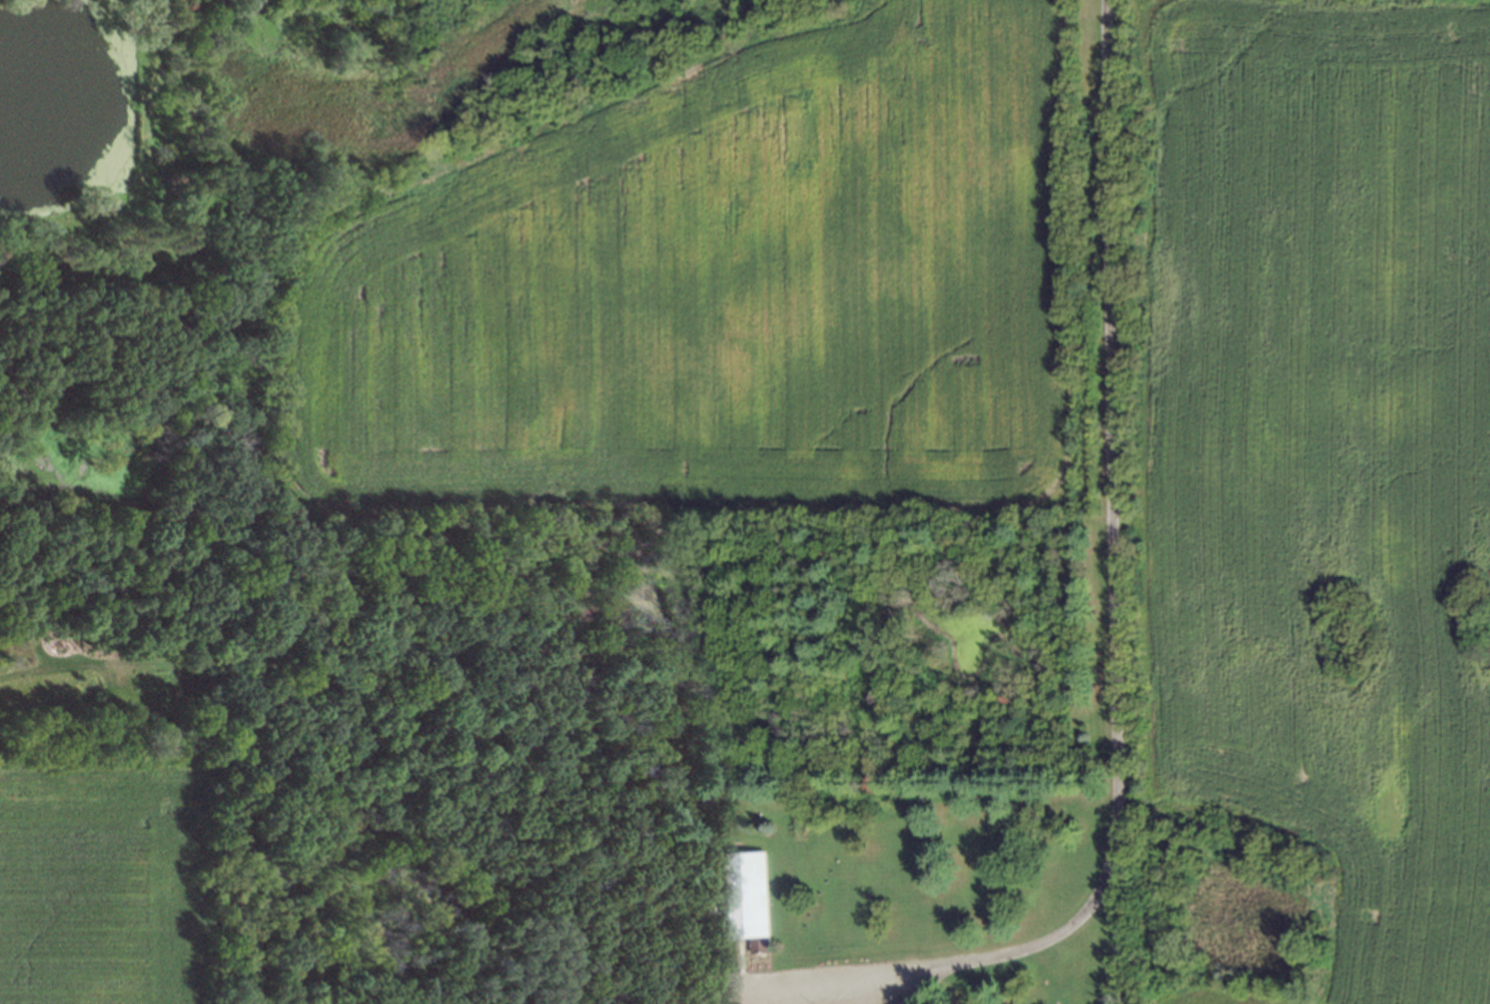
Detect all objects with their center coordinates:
road: (1112, 644)
building: (741, 893)

